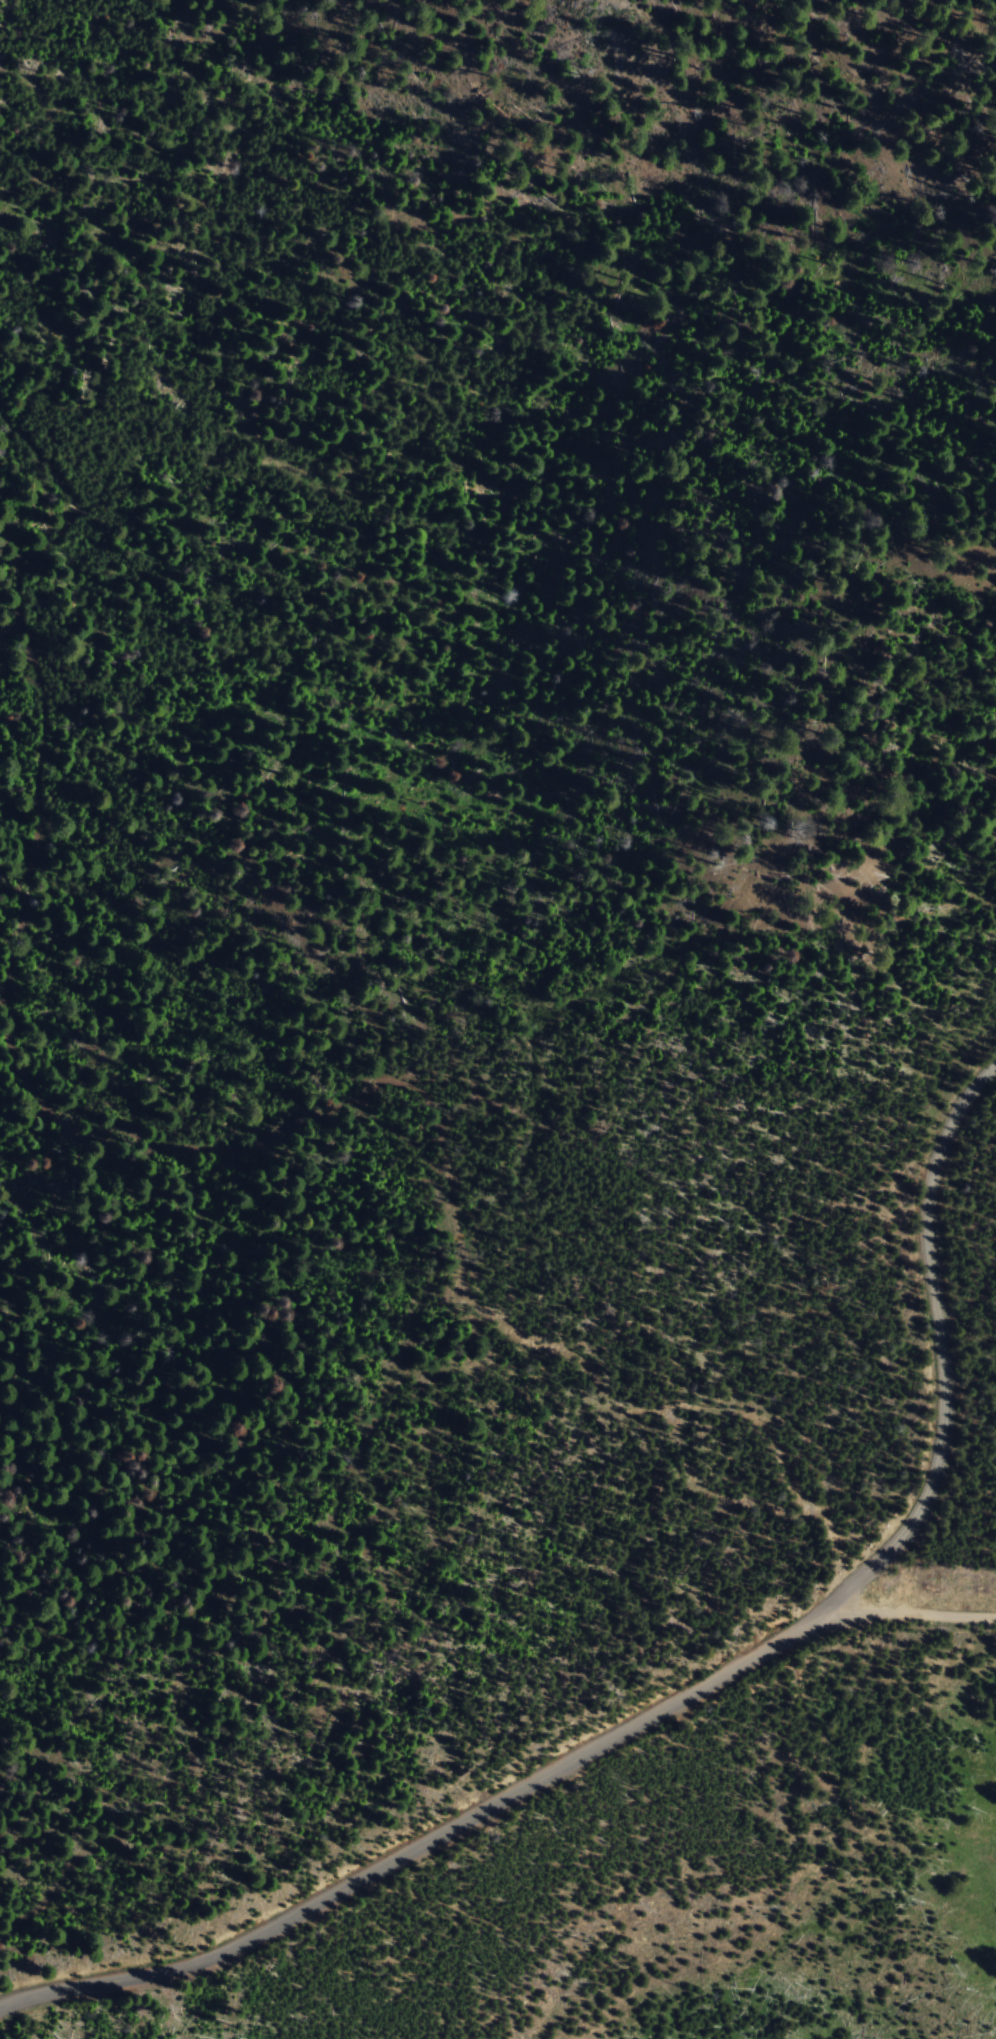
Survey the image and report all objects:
road: (185, 1126)
road: (940, 1302)
road: (865, 1575)
road: (909, 1615)
road: (421, 1841)

